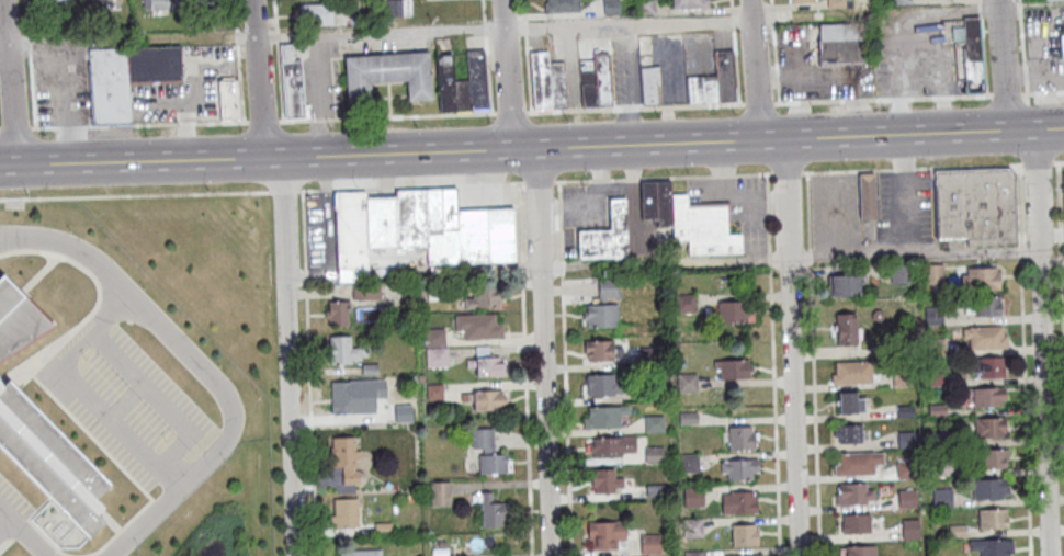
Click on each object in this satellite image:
building: (197, 0)
building: (802, 0)
building: (902, 1)
building: (60, 2)
building: (156, 3)
building: (690, 3)
road: (729, 3)
building: (836, 3)
building: (561, 4)
road: (522, 5)
building: (645, 5)
building: (399, 7)
building: (611, 7)
road: (484, 10)
road: (274, 12)
building: (316, 12)
road: (25, 15)
road: (731, 18)
road: (523, 22)
building: (1063, 22)
road: (627, 25)
road: (485, 27)
road: (275, 33)
road: (377, 34)
building: (841, 41)
road: (27, 42)
building: (1061, 44)
road: (982, 47)
road: (1021, 47)
building: (965, 48)
road: (773, 52)
road: (238, 60)
building: (154, 61)
road: (736, 65)
building: (387, 71)
road: (527, 72)
building: (725, 73)
road: (489, 75)
road: (59, 78)
building: (476, 78)
road: (257, 79)
building: (444, 79)
building: (546, 80)
road: (280, 81)
building: (292, 81)
road: (9, 82)
building: (598, 82)
building: (648, 82)
building: (109, 84)
building: (702, 88)
road: (32, 91)
building: (462, 93)
building: (229, 97)
road: (532, 111)
street lamp: (735, 114)
street lamp: (567, 121)
road: (751, 138)
road: (791, 138)
road: (544, 146)
road: (502, 147)
road: (532, 148)
road: (297, 154)
street lamp: (1020, 161)
road: (1061, 161)
road: (1037, 163)
road: (965, 166)
street lamp: (845, 167)
road: (903, 168)
road: (849, 170)
building: (1063, 170)
road: (785, 172)
street lamp: (687, 173)
street lamp: (588, 174)
road: (258, 175)
road: (663, 177)
road: (539, 181)
road: (410, 185)
street lamp: (208, 191)
street lamp: (27, 194)
road: (145, 194)
building: (867, 195)
road: (14, 197)
road: (1057, 197)
road: (1, 198)
road: (1017, 203)
building: (976, 204)
building: (688, 218)
building: (454, 224)
building: (350, 229)
street lamp: (70, 230)
building: (605, 232)
road: (1051, 241)
road: (1059, 248)
road: (912, 251)
road: (1019, 251)
building: (932, 272)
building: (901, 273)
road: (1038, 274)
road: (539, 275)
road: (788, 275)
building: (982, 277)
building: (845, 282)
street lamp: (144, 287)
building: (482, 297)
building: (684, 303)
building: (602, 305)
building: (986, 305)
building: (337, 310)
building: (732, 310)
building: (933, 315)
building: (18, 318)
building: (477, 326)
building: (846, 328)
road: (1061, 329)
building: (985, 336)
building: (435, 347)
building: (936, 347)
building: (599, 349)
building: (342, 350)
road: (285, 355)
street lamp: (84, 356)
building: (650, 356)
road: (813, 363)
road: (772, 364)
street lamp: (219, 365)
building: (486, 365)
building: (993, 366)
road: (201, 367)
road: (524, 367)
road: (565, 367)
building: (733, 368)
building: (852, 372)
road: (308, 373)
building: (935, 377)
building: (903, 379)
building: (688, 382)
building: (603, 384)
road: (84, 389)
building: (342, 396)
building: (987, 396)
street lamp: (259, 398)
road: (157, 399)
building: (487, 399)
building: (850, 400)
parking lot: (131, 407)
road: (1025, 407)
building: (937, 410)
building: (905, 411)
building: (604, 416)
building: (689, 417)
building: (654, 423)
building: (989, 427)
building: (848, 432)
building: (742, 436)
building: (939, 439)
building: (907, 440)
street lamp: (166, 441)
building: (612, 445)
building: (488, 451)
building: (654, 454)
building: (346, 457)
building: (994, 457)
building: (49, 459)
street lamp: (225, 462)
building: (689, 462)
building: (858, 462)
building: (739, 467)
building: (939, 467)
building: (906, 468)
building: (604, 479)
building: (989, 488)
building: (440, 492)
building: (853, 492)
building: (693, 496)
building: (942, 497)
parking lot: (13, 498)
building: (907, 498)
building: (739, 501)
building: (493, 511)
building: (343, 512)
building: (993, 517)
road: (9, 518)
building: (857, 522)
building: (692, 526)
building: (910, 527)
building: (958, 530)
building: (607, 532)
building: (745, 534)
road: (29, 537)
building: (650, 543)
building: (993, 545)
street lamp: (138, 546)
building: (860, 549)
building: (359, 552)
building: (693, 553)
building: (744, 555)

